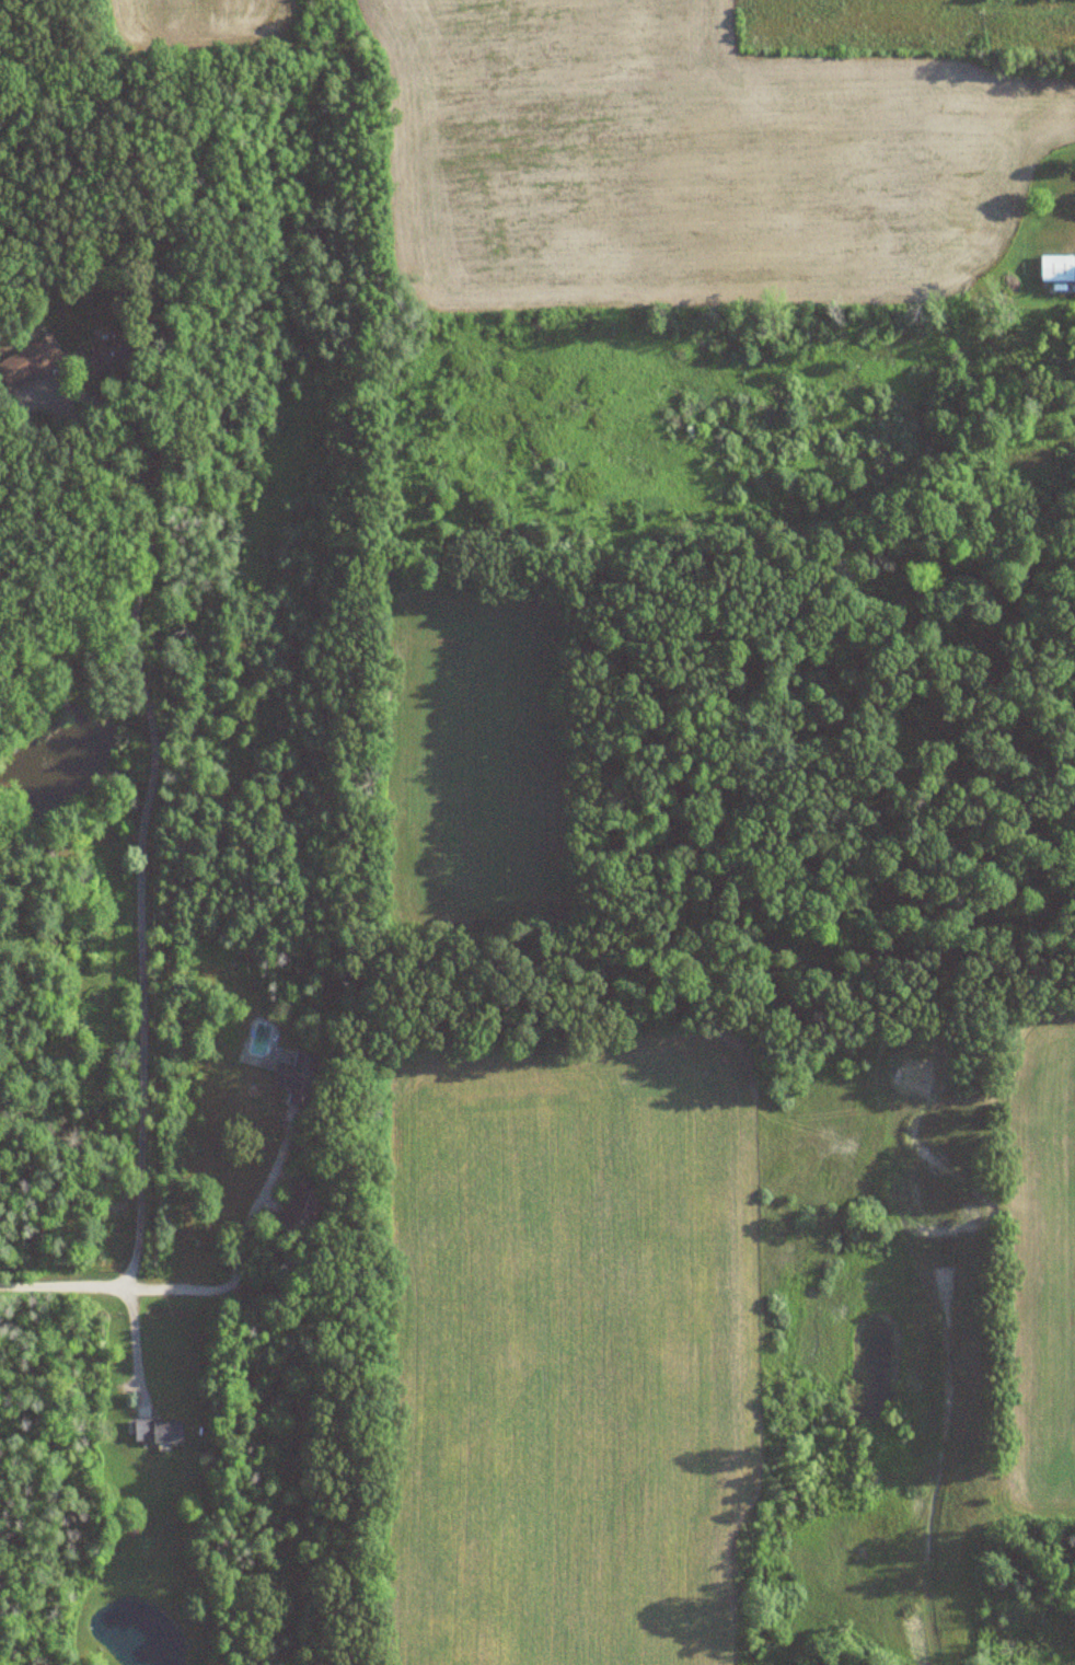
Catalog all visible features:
building: (1057, 268)
building: (62, 360)
road: (141, 883)
building: (293, 1075)
road: (257, 1204)
building: (302, 1204)
road: (170, 1290)
road: (135, 1344)
building: (158, 1430)

